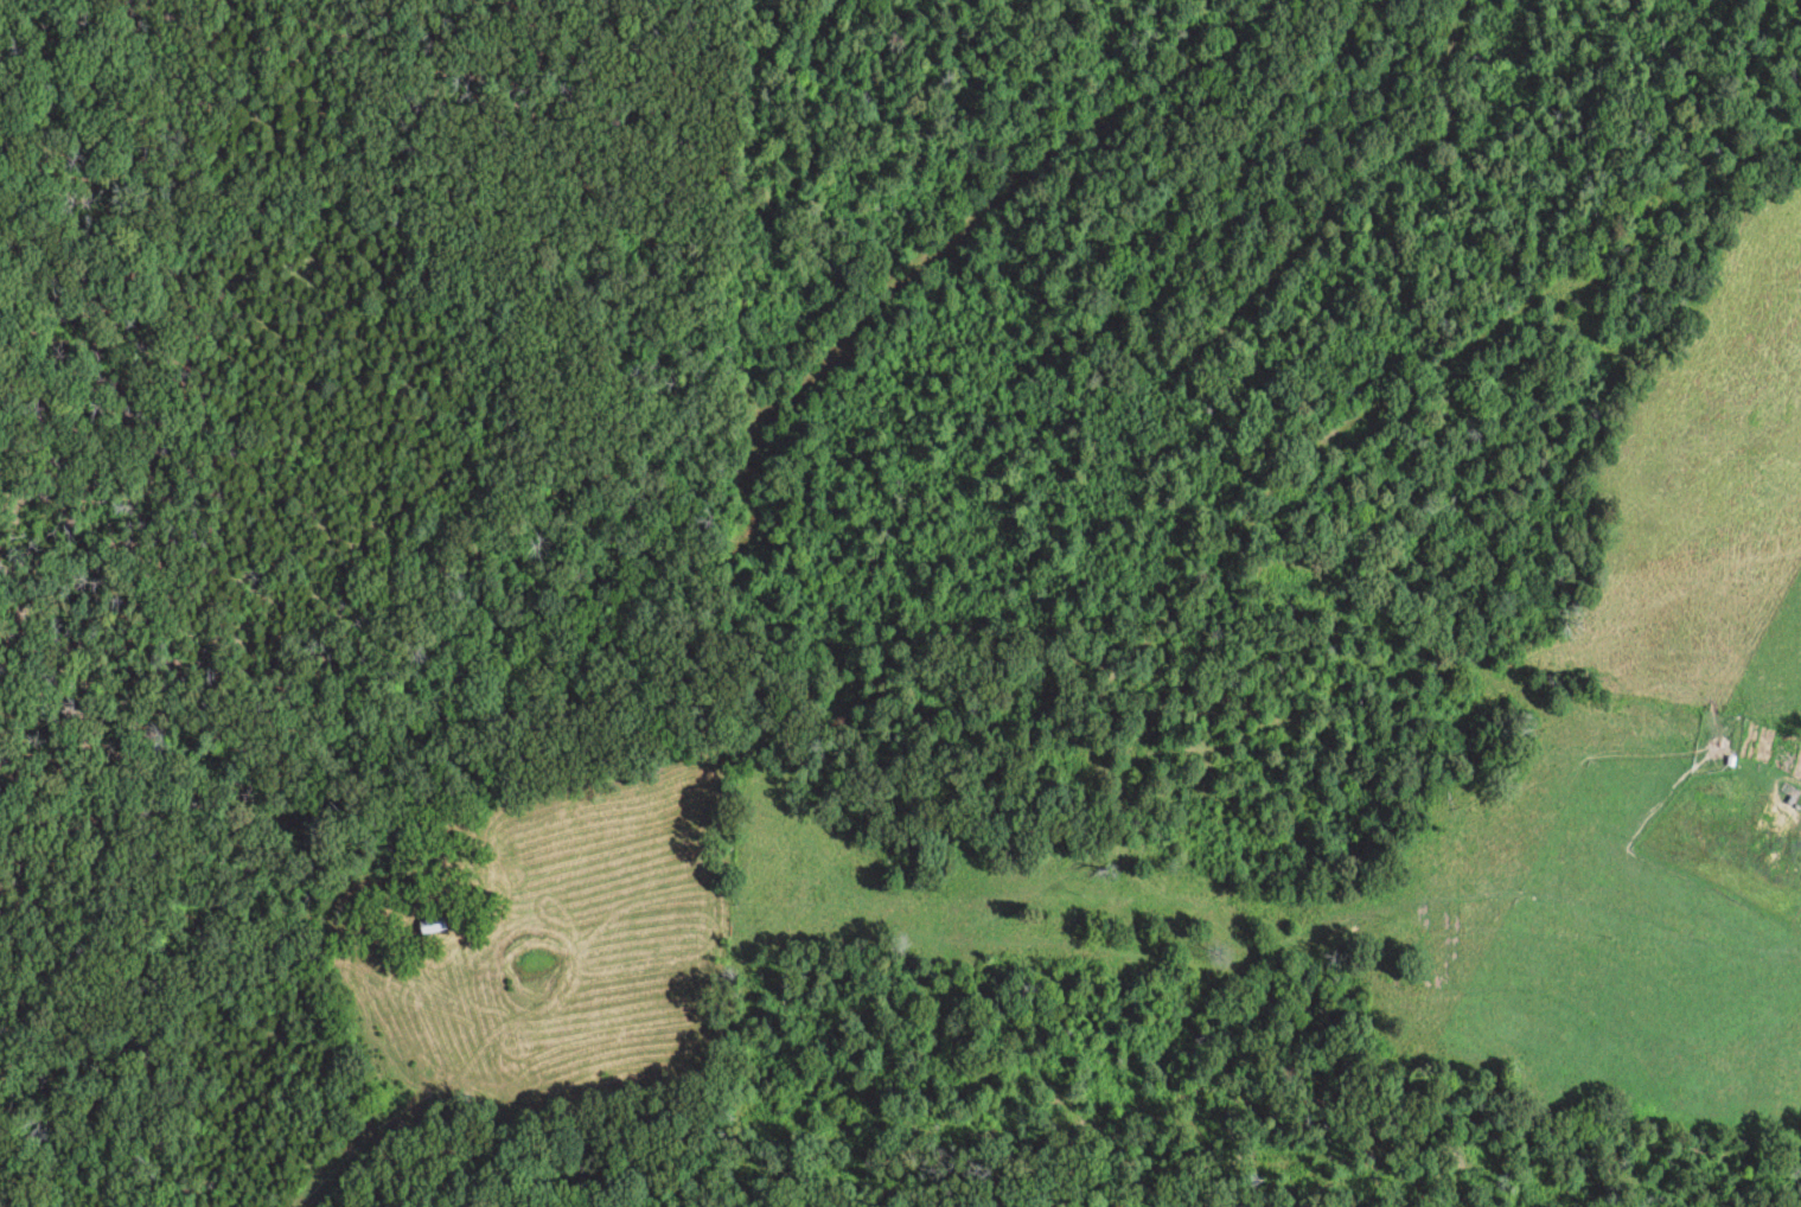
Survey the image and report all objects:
building: (428, 927)

